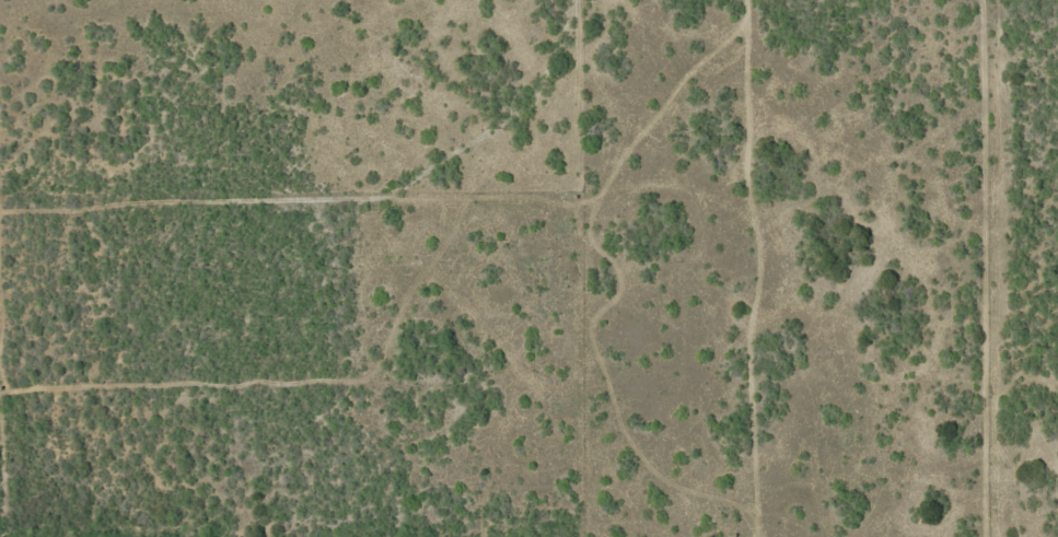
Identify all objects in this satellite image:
road: (478, 137)

